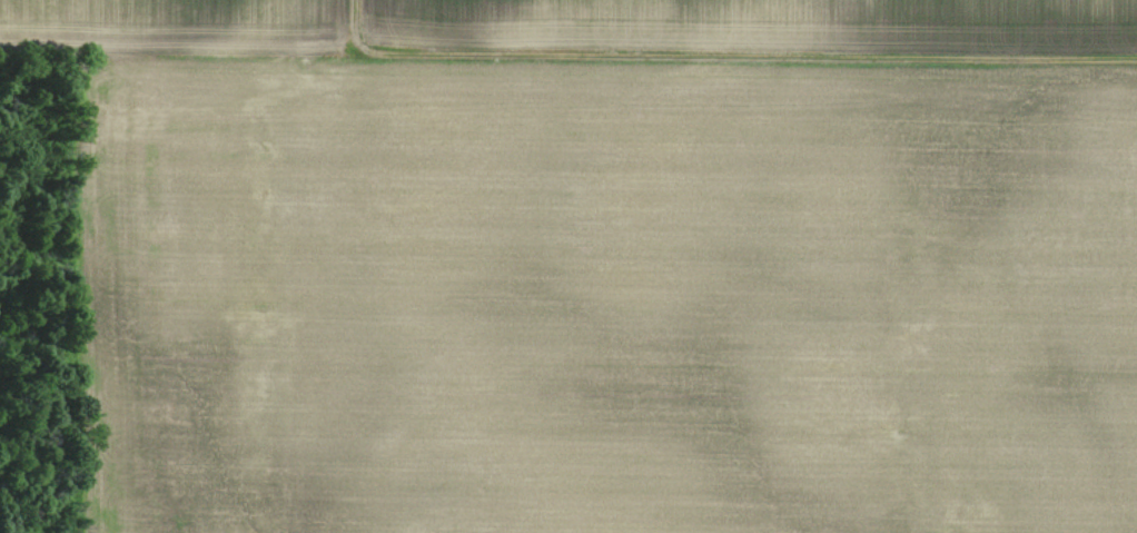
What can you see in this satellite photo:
road: (724, 50)

